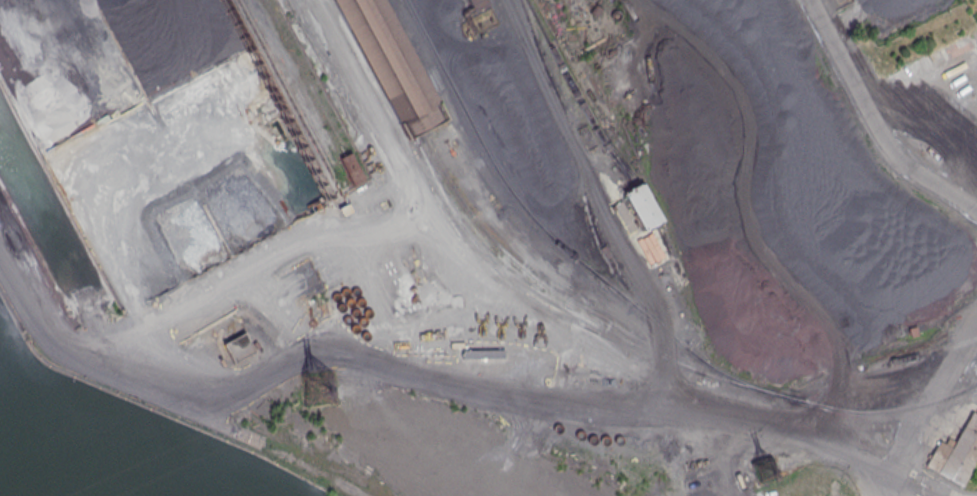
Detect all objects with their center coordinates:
building: (478, 4)
building: (392, 65)
railway: (390, 66)
railway: (380, 68)
railway: (578, 96)
road: (874, 121)
road: (395, 161)
building: (349, 169)
railway: (585, 186)
road: (592, 189)
building: (644, 207)
road: (767, 214)
railway: (550, 236)
railway: (540, 280)
road: (574, 340)
building: (238, 348)
railway: (654, 354)
railway: (921, 354)
road: (112, 374)
power tower: (314, 384)
road: (926, 407)
building: (957, 453)
power tower: (766, 470)
river: (4, 489)

